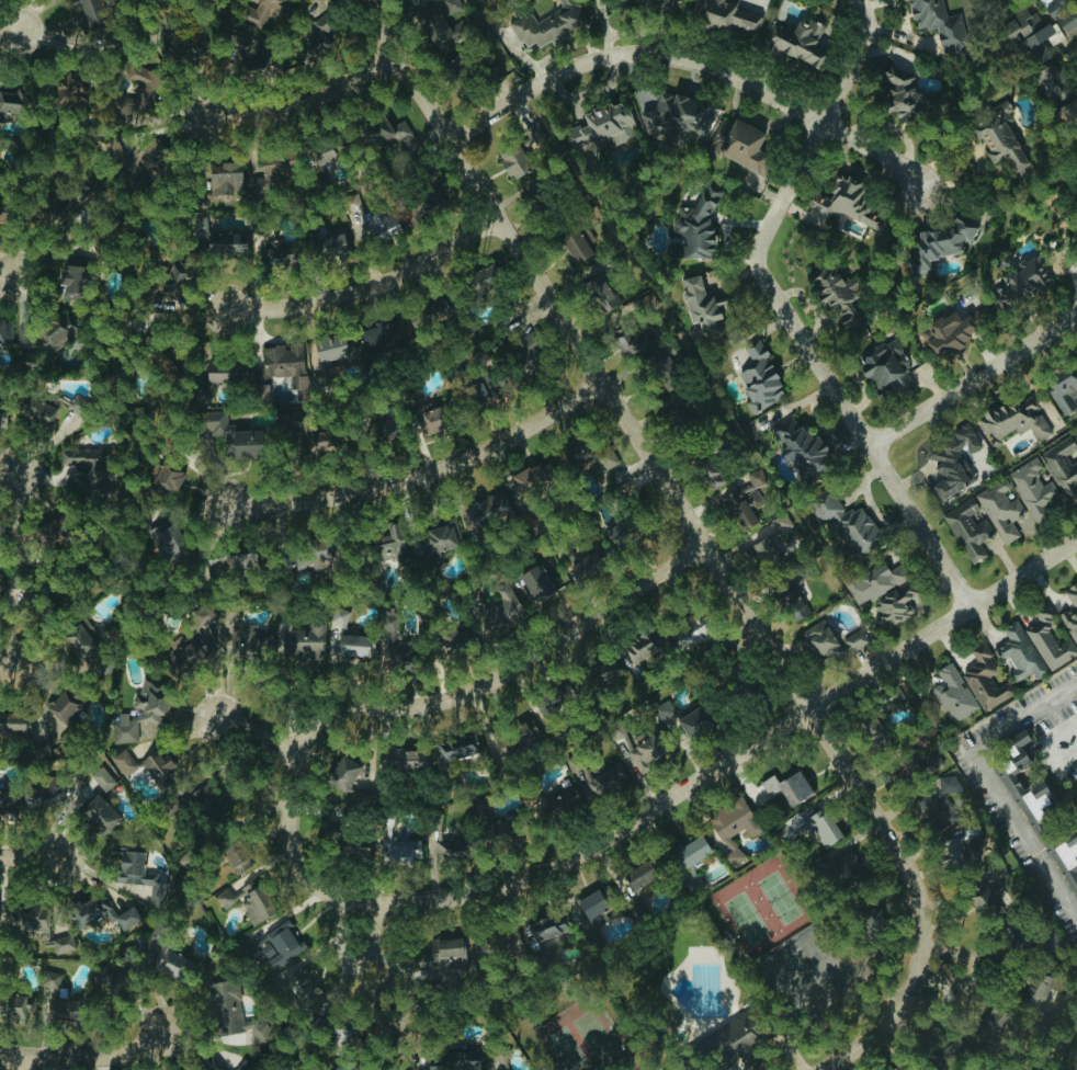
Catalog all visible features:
building: (420, 2)
building: (1057, 7)
building: (89, 9)
road: (908, 14)
building: (728, 15)
road: (11, 21)
building: (940, 21)
building: (444, 23)
building: (551, 23)
building: (1020, 24)
building: (256, 25)
building: (1069, 26)
building: (316, 36)
building: (797, 42)
road: (918, 42)
building: (1038, 43)
road: (562, 48)
road: (522, 52)
building: (140, 73)
road: (755, 80)
building: (1059, 95)
road: (304, 100)
building: (912, 100)
building: (13, 102)
building: (135, 102)
building: (678, 116)
building: (537, 134)
building: (388, 135)
building: (1076, 137)
building: (998, 139)
building: (741, 145)
building: (1075, 149)
building: (147, 157)
building: (514, 160)
building: (273, 168)
building: (226, 178)
building: (842, 207)
building: (370, 218)
building: (699, 224)
building: (581, 236)
building: (217, 239)
building: (336, 243)
building: (937, 246)
building: (281, 252)
road: (10, 274)
building: (174, 276)
building: (484, 280)
building: (75, 282)
building: (1019, 285)
building: (601, 292)
road: (366, 293)
building: (702, 304)
building: (842, 307)
road: (783, 310)
building: (56, 329)
building: (5, 330)
building: (949, 333)
building: (381, 339)
building: (633, 342)
building: (336, 346)
building: (287, 363)
building: (884, 369)
building: (219, 371)
road: (972, 378)
building: (758, 382)
building: (1062, 386)
building: (260, 390)
building: (476, 392)
building: (42, 413)
building: (1, 417)
building: (1013, 420)
building: (231, 433)
building: (1075, 435)
building: (609, 458)
building: (951, 460)
building: (87, 466)
road: (11, 468)
building: (1062, 470)
building: (705, 471)
building: (169, 477)
road: (422, 477)
building: (531, 478)
building: (809, 489)
building: (1031, 491)
building: (742, 502)
building: (490, 510)
building: (999, 510)
building: (780, 523)
building: (966, 531)
building: (622, 535)
building: (8, 536)
road: (696, 537)
building: (180, 542)
building: (419, 542)
building: (763, 549)
building: (319, 554)
building: (585, 562)
building: (537, 581)
building: (881, 594)
building: (510, 599)
building: (1069, 613)
building: (301, 639)
building: (1047, 639)
building: (75, 646)
building: (832, 646)
building: (349, 647)
building: (643, 647)
building: (1018, 653)
building: (186, 657)
road: (9, 663)
road: (505, 673)
building: (983, 680)
building: (951, 695)
road: (1056, 715)
road: (1023, 717)
building: (132, 718)
building: (693, 724)
road: (262, 739)
road: (1045, 744)
building: (637, 748)
building: (460, 750)
building: (404, 760)
building: (122, 763)
building: (158, 769)
building: (903, 770)
building: (339, 775)
building: (1011, 775)
building: (606, 778)
building: (102, 784)
building: (783, 793)
building: (559, 802)
building: (934, 805)
road: (660, 806)
building: (4, 807)
building: (97, 817)
building: (486, 822)
building: (730, 827)
building: (814, 828)
road: (1023, 835)
building: (451, 845)
building: (399, 850)
building: (690, 852)
building: (1068, 853)
road: (30, 858)
building: (236, 861)
building: (137, 872)
building: (974, 873)
building: (247, 901)
building: (637, 911)
building: (97, 912)
building: (1, 914)
road: (360, 915)
building: (29, 926)
building: (557, 926)
road: (358, 932)
building: (281, 943)
building: (60, 944)
building: (446, 954)
road: (944, 966)
building: (296, 975)
building: (105, 980)
building: (55, 1000)
building: (990, 1027)
road: (86, 1050)
building: (467, 1059)
road: (24, 1061)
building: (202, 1062)
building: (245, 1066)
building: (1033, 1068)

